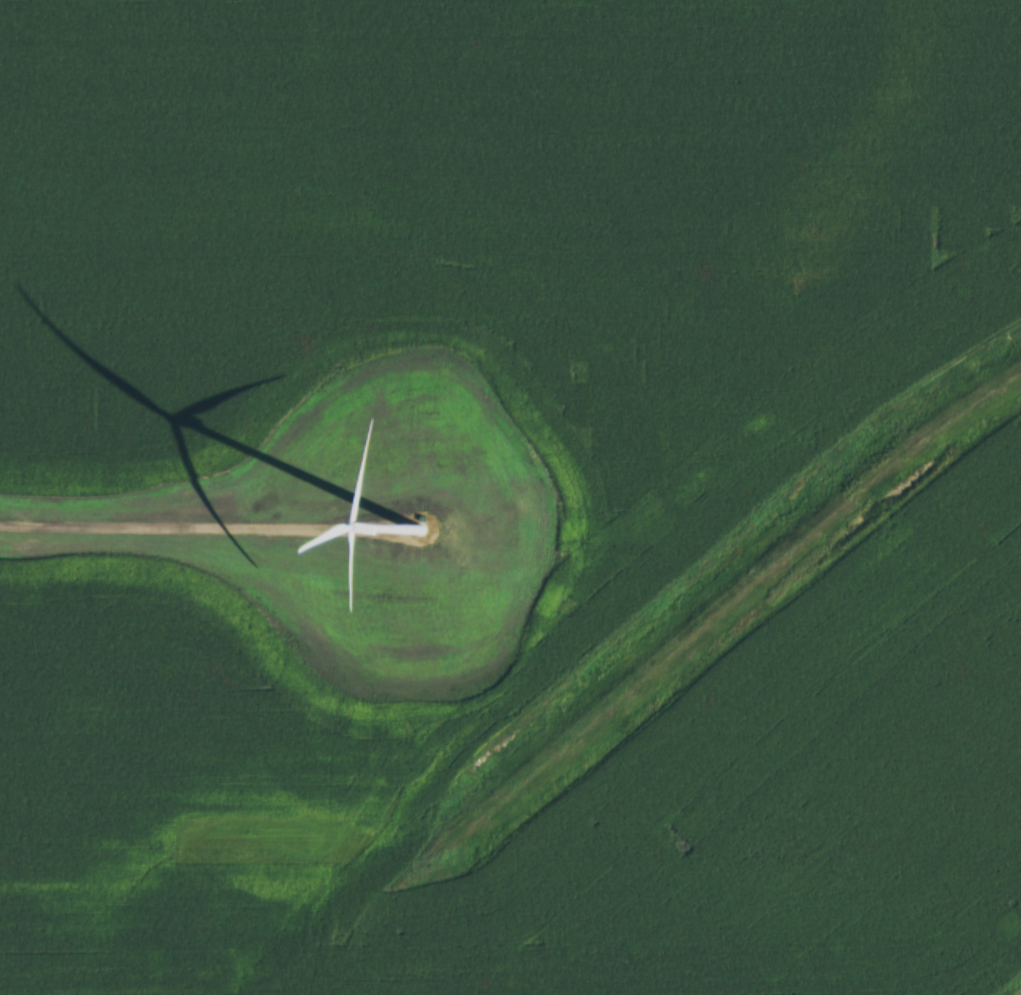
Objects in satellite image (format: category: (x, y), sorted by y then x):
wind turbine: (419, 528)

